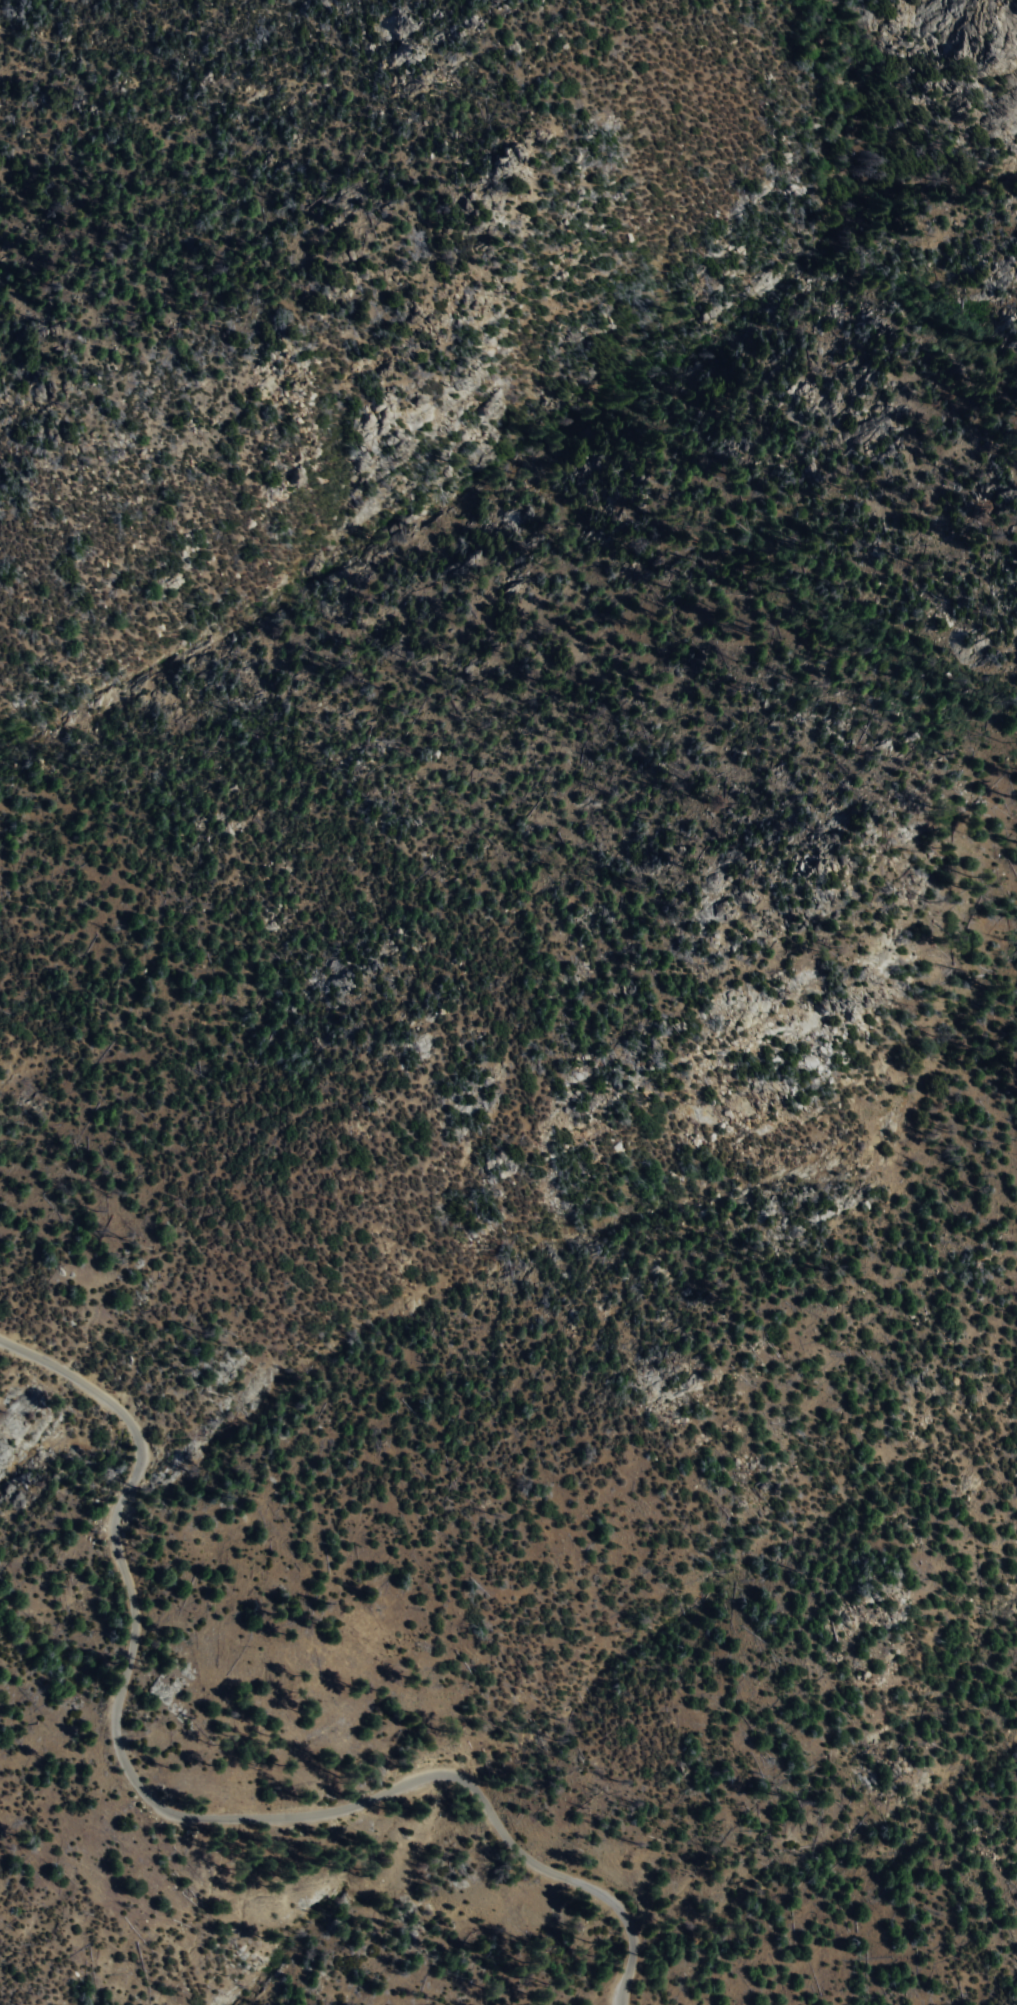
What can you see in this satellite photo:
road: (186, 1815)

